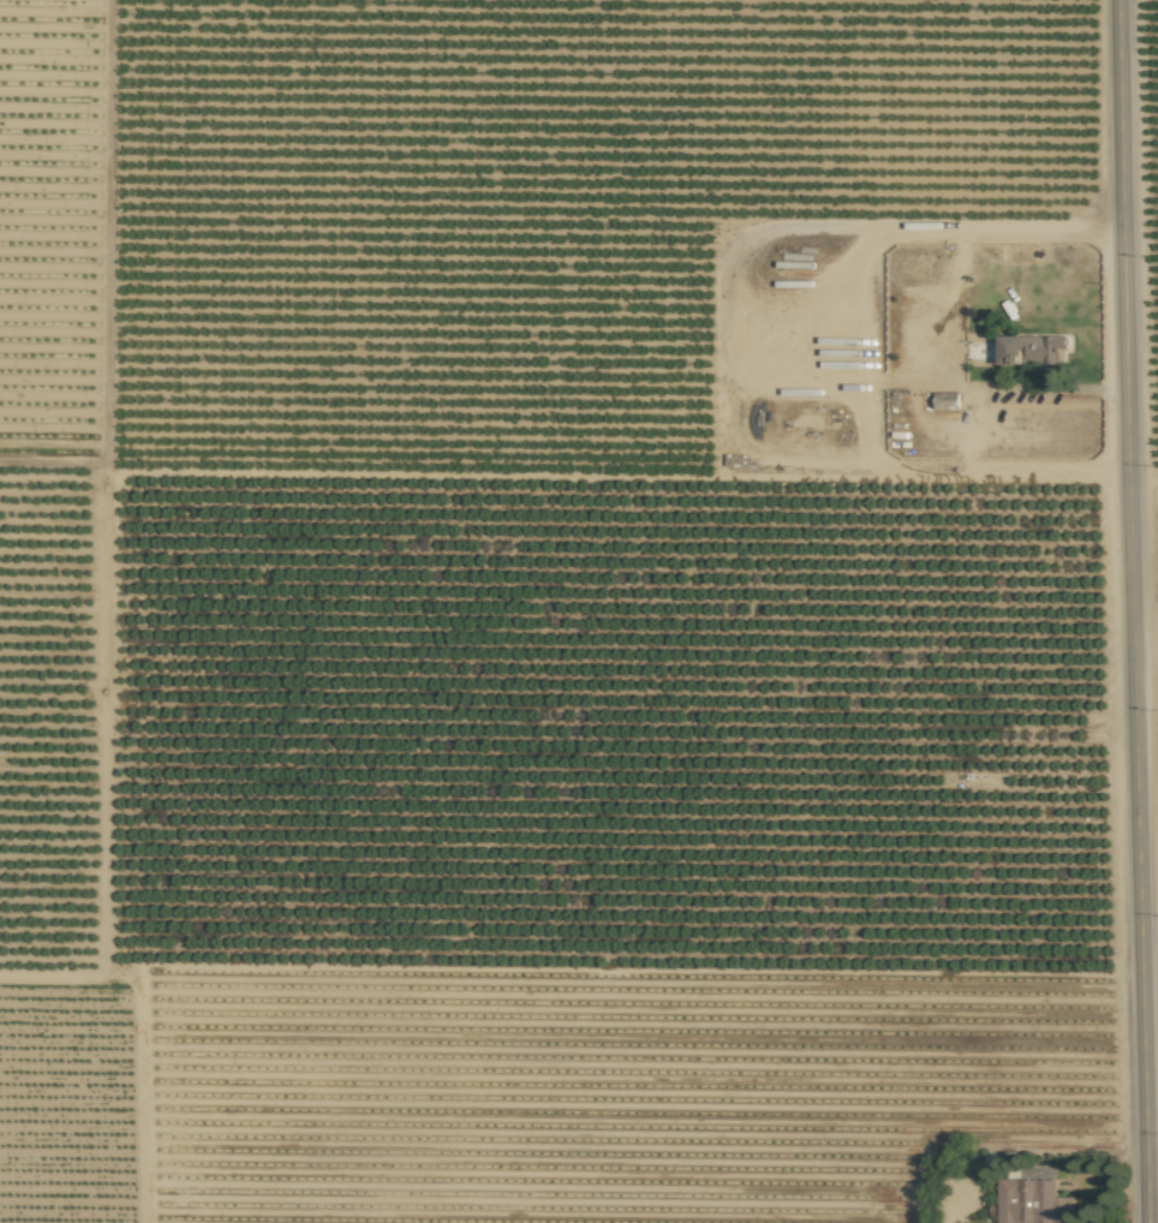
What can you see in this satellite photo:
road: (963, 243)
building: (1033, 348)
road: (972, 432)
road: (1130, 611)
road: (1151, 1157)
building: (1032, 1201)

